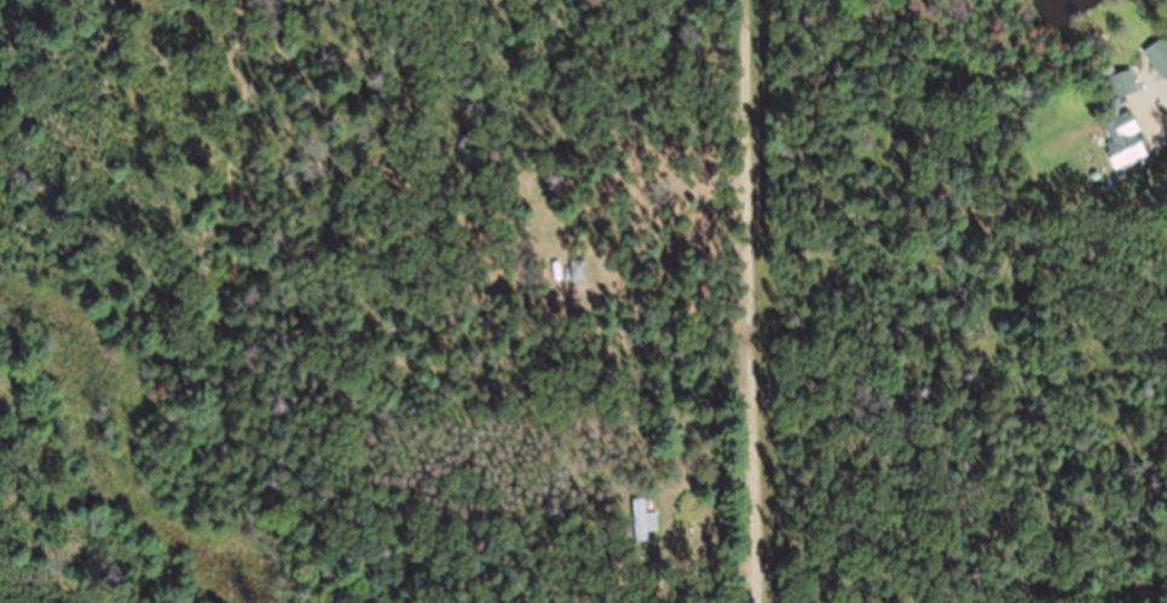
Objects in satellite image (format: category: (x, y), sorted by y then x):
building: (1160, 70)
building: (1125, 138)
building: (582, 284)
road: (763, 301)
building: (647, 537)

